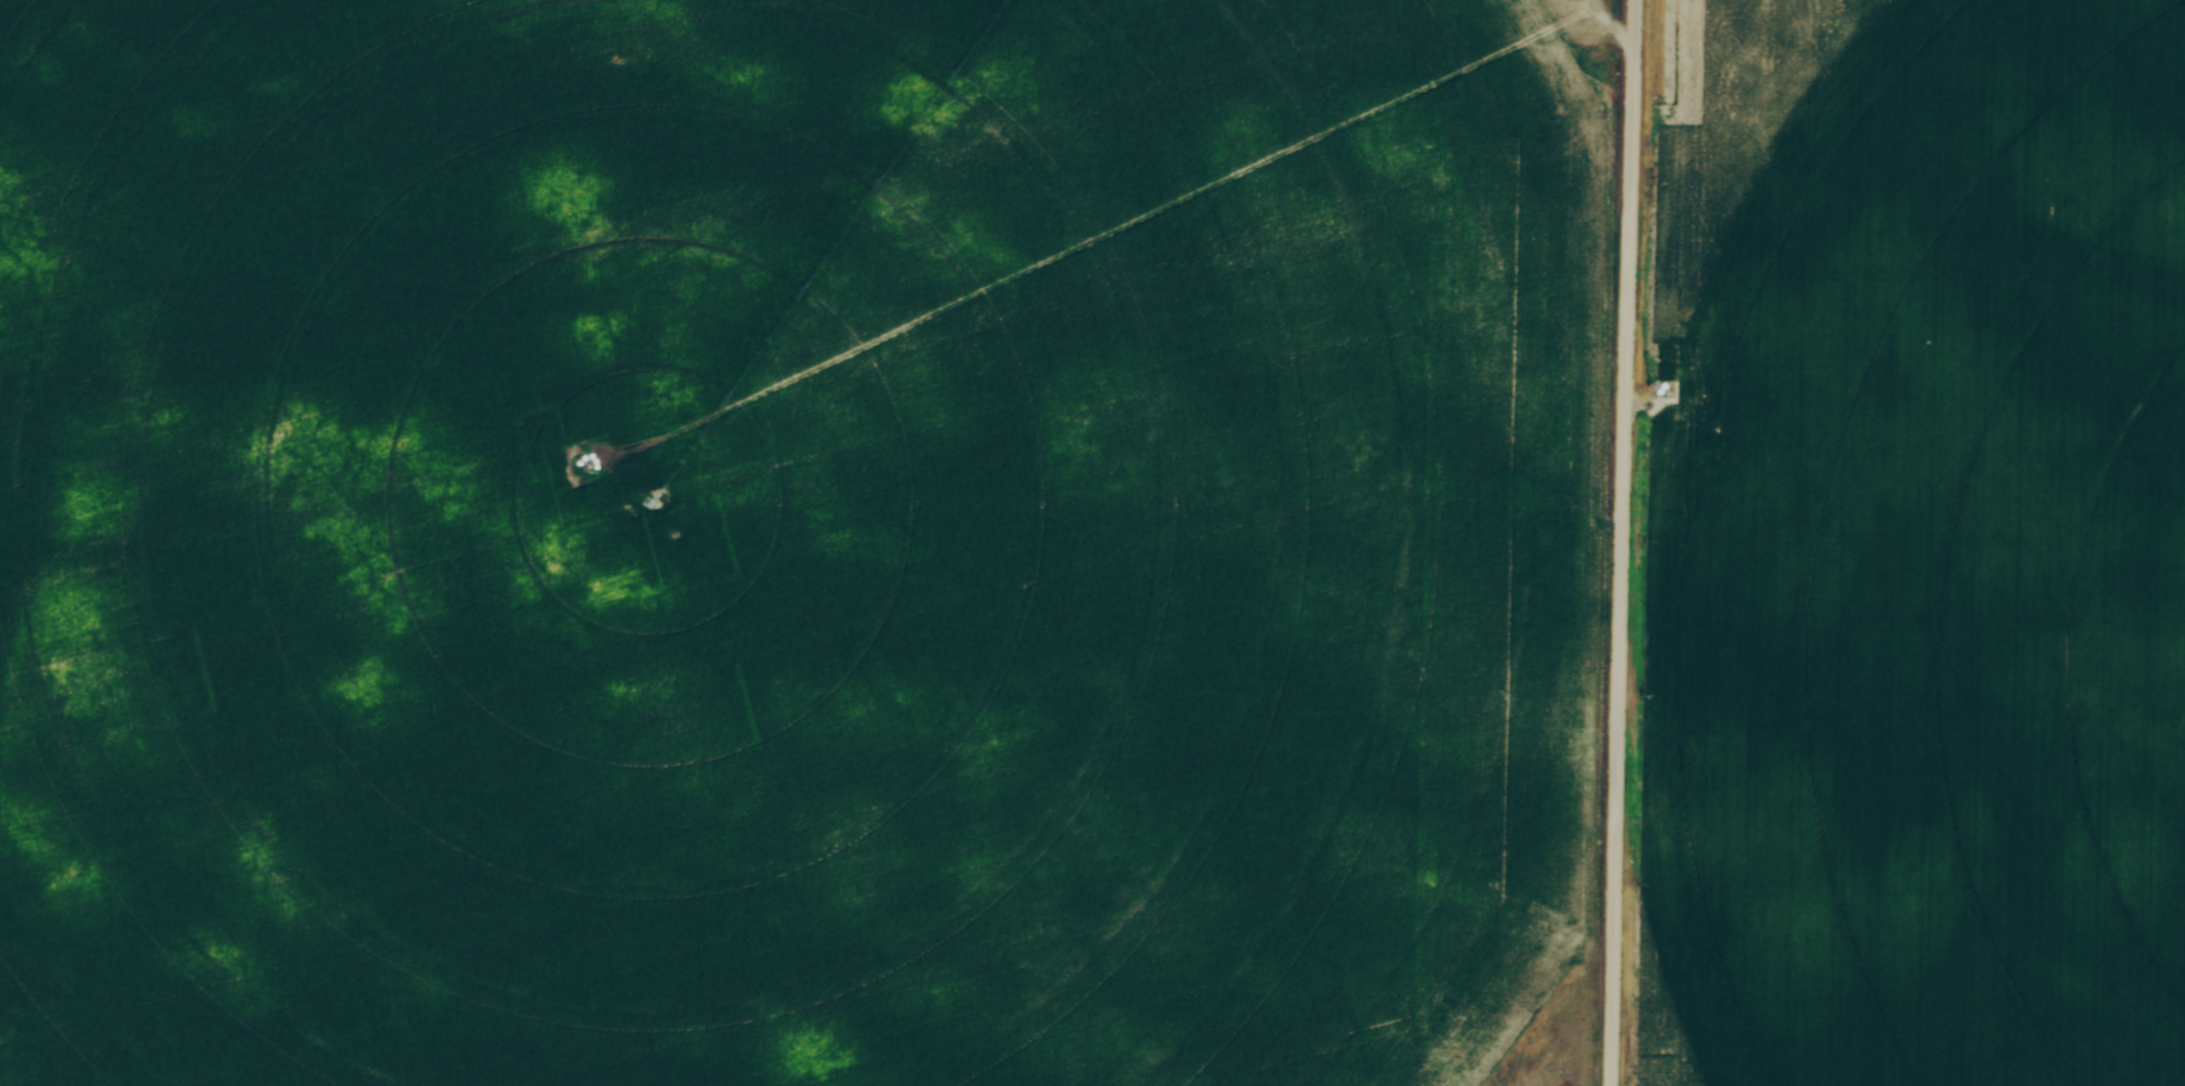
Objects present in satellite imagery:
crop: (790, 540)
road: (1619, 542)

